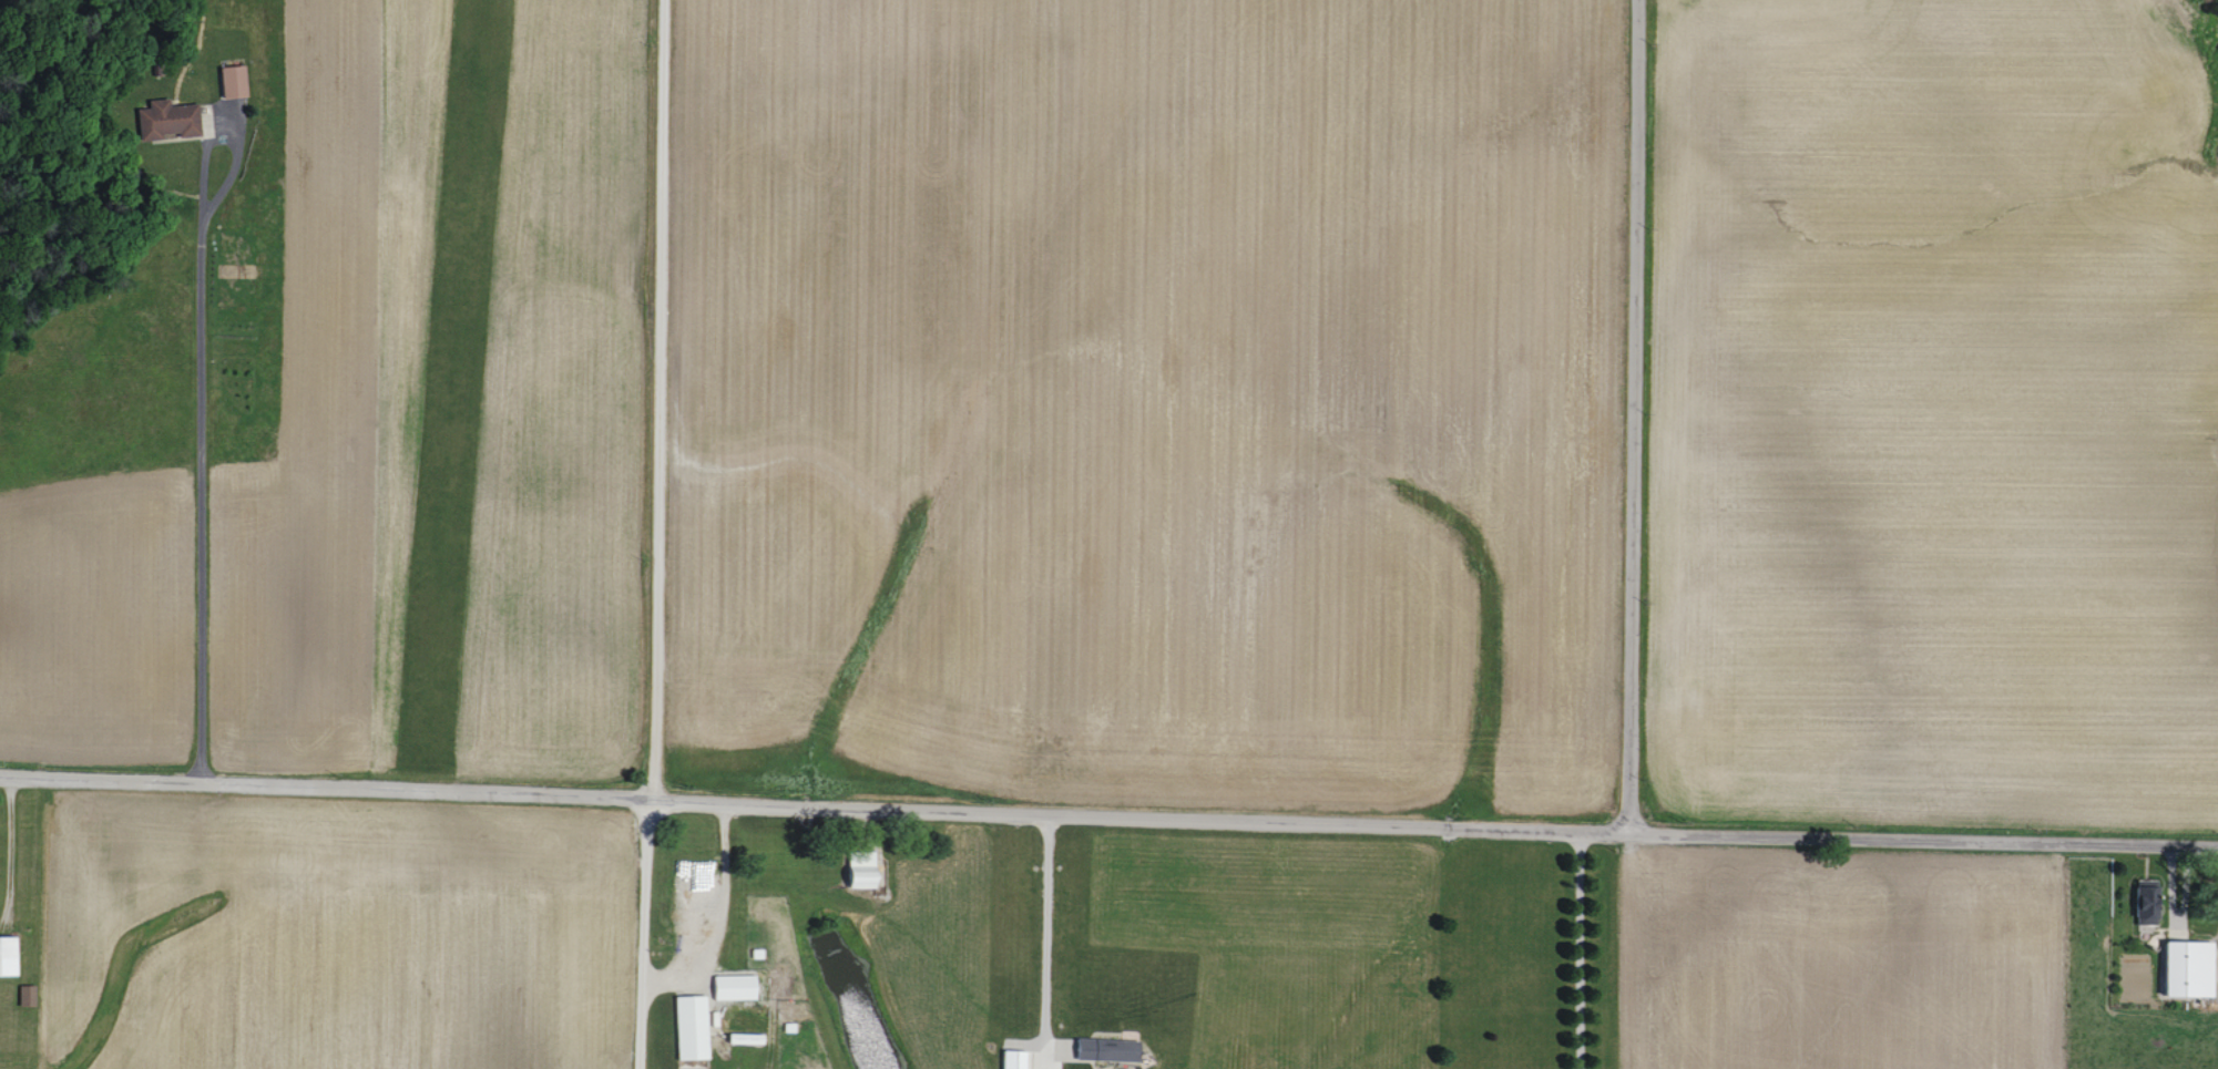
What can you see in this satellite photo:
building: (227, 81)
building: (161, 120)
airport runway: (451, 381)
road: (650, 395)
road: (1632, 417)
road: (200, 473)
road: (814, 798)
road: (1923, 841)
building: (855, 870)
building: (2140, 903)
road: (1044, 921)
road: (1577, 950)
building: (9, 954)
building: (2180, 969)
road: (670, 979)
building: (729, 987)
building: (686, 1028)
building: (1101, 1050)

